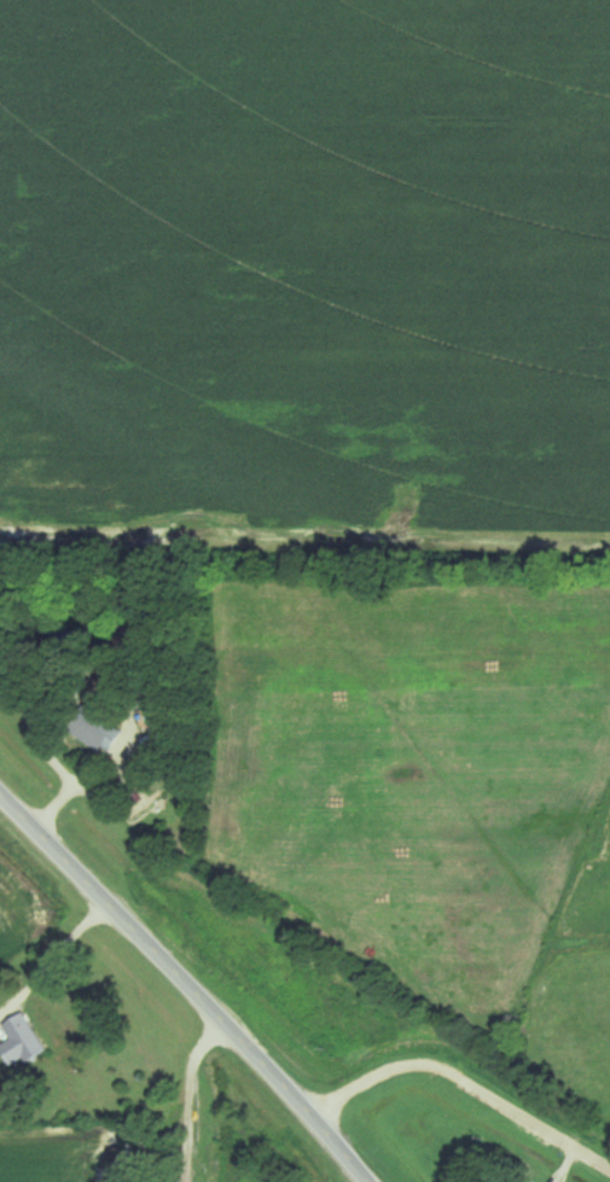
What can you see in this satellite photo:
building: (155, 723)
building: (93, 727)
road: (191, 980)
building: (27, 1037)
road: (466, 1081)

